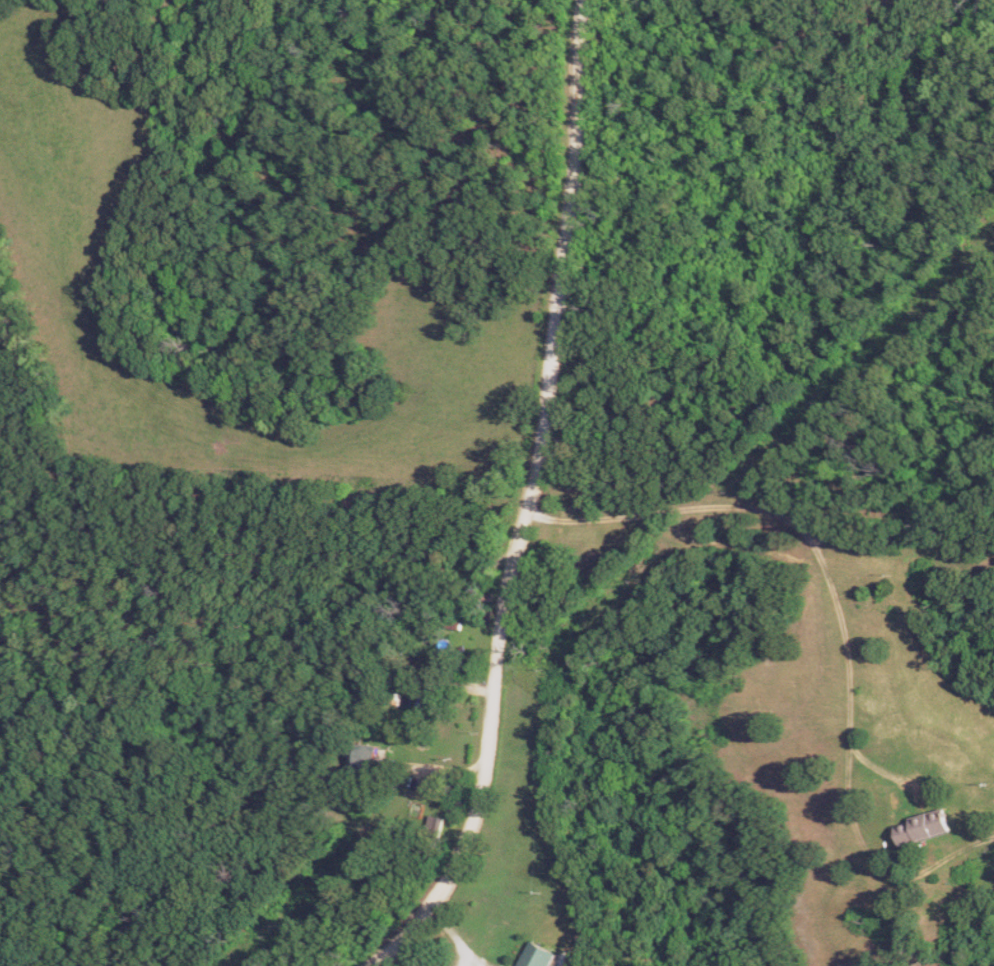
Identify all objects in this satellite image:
road: (526, 503)
road: (783, 551)
building: (369, 756)
building: (926, 827)
road: (462, 940)
building: (542, 956)

